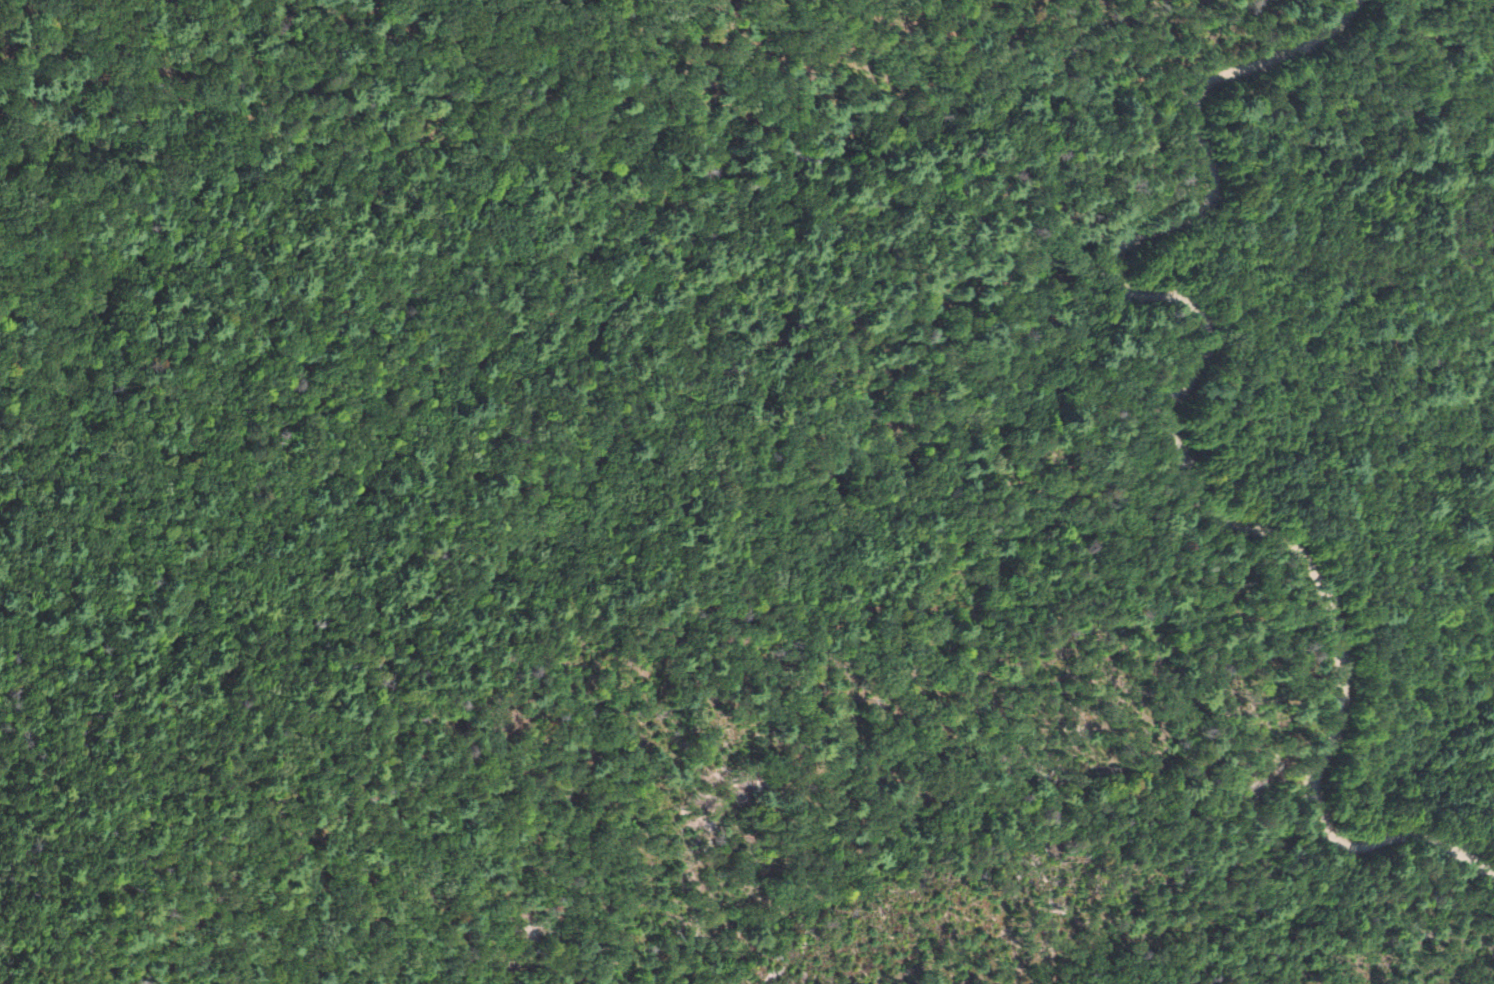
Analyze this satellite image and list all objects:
road: (1177, 430)

